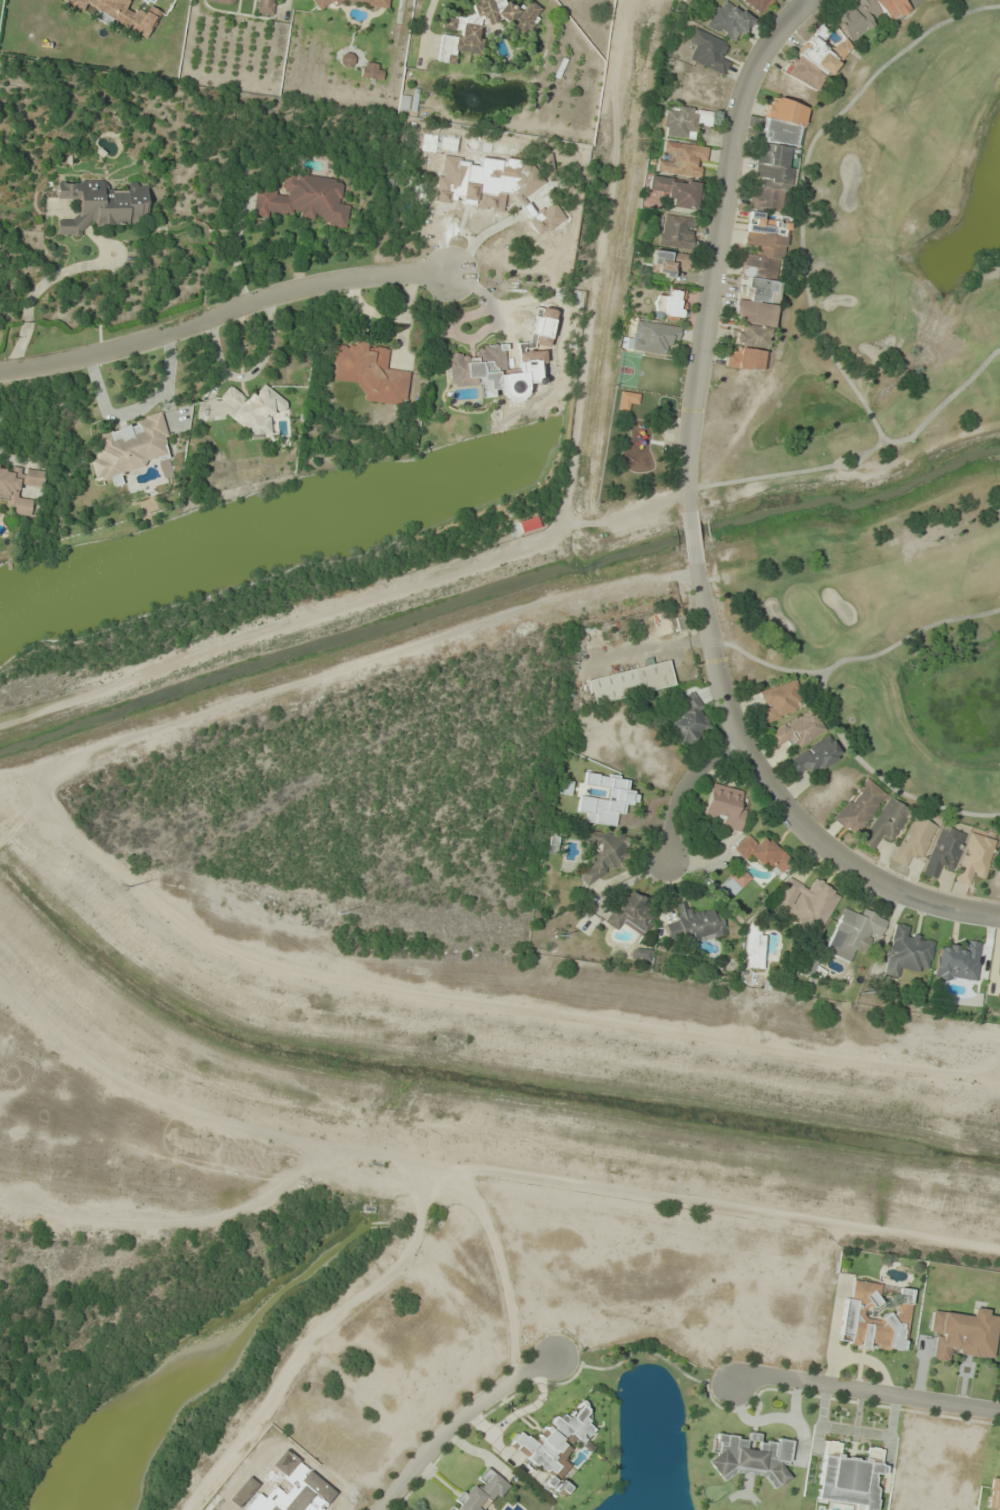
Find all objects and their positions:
building: (223, 1)
building: (373, 2)
building: (755, 4)
building: (264, 7)
building: (119, 14)
building: (728, 20)
building: (459, 29)
building: (707, 52)
building: (346, 59)
building: (816, 59)
building: (371, 71)
building: (684, 120)
building: (777, 154)
building: (681, 159)
building: (547, 165)
building: (493, 183)
building: (675, 191)
building: (303, 199)
building: (101, 205)
building: (676, 231)
building: (668, 262)
building: (756, 292)
building: (669, 304)
road: (221, 310)
building: (651, 337)
building: (523, 361)
building: (479, 369)
building: (369, 373)
building: (627, 399)
building: (254, 408)
river: (559, 411)
river: (557, 429)
building: (129, 446)
building: (18, 486)
road: (691, 525)
river: (278, 528)
building: (630, 682)
building: (779, 700)
building: (687, 722)
building: (796, 730)
building: (811, 757)
road: (679, 796)
building: (604, 797)
building: (724, 806)
building: (859, 806)
building: (884, 824)
building: (914, 839)
building: (942, 850)
building: (762, 851)
building: (604, 853)
building: (974, 858)
building: (735, 881)
building: (806, 902)
building: (631, 913)
building: (694, 924)
building: (854, 932)
building: (753, 947)
building: (905, 952)
building: (639, 954)
building: (958, 962)
building: (999, 990)
building: (872, 1318)
building: (961, 1334)
road: (864, 1390)
road: (454, 1420)
building: (554, 1441)
building: (749, 1457)
building: (848, 1476)
building: (561, 1489)
building: (479, 1491)

